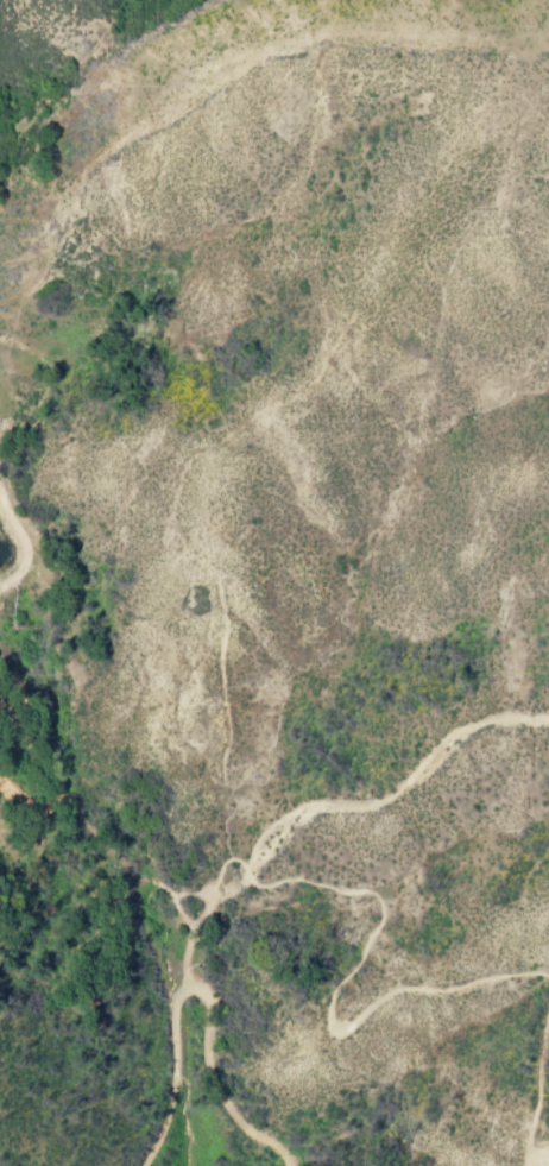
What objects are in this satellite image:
road: (17, 719)
road: (389, 803)
road: (122, 820)
road: (374, 944)
road: (193, 994)
road: (535, 1084)
road: (532, 1155)
road: (547, 1158)

